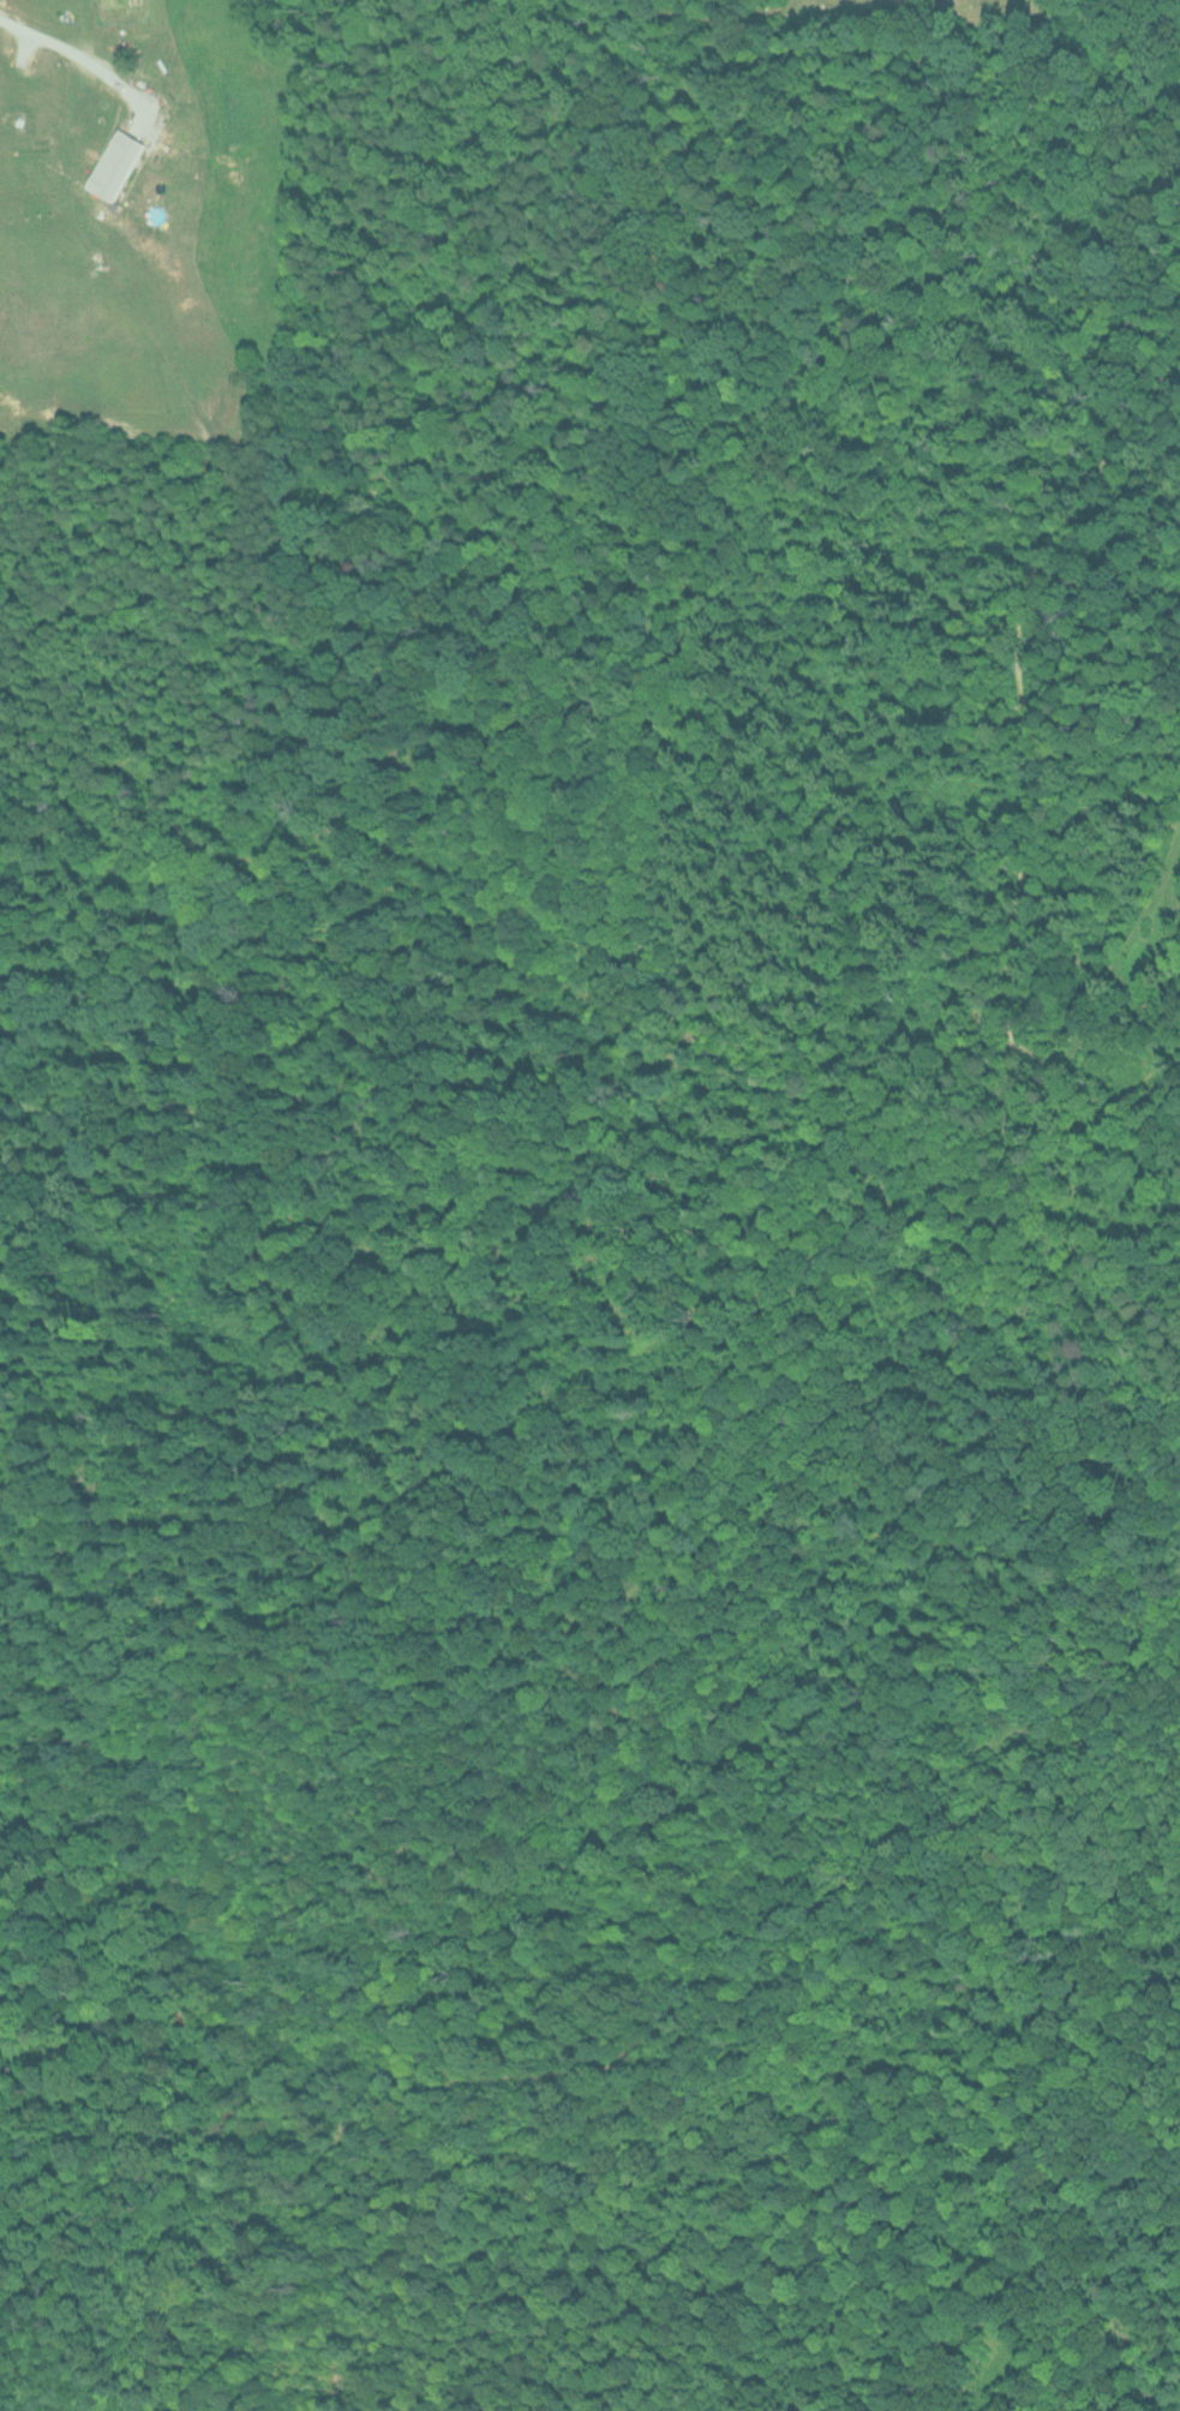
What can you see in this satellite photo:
road: (80, 56)
building: (124, 163)

